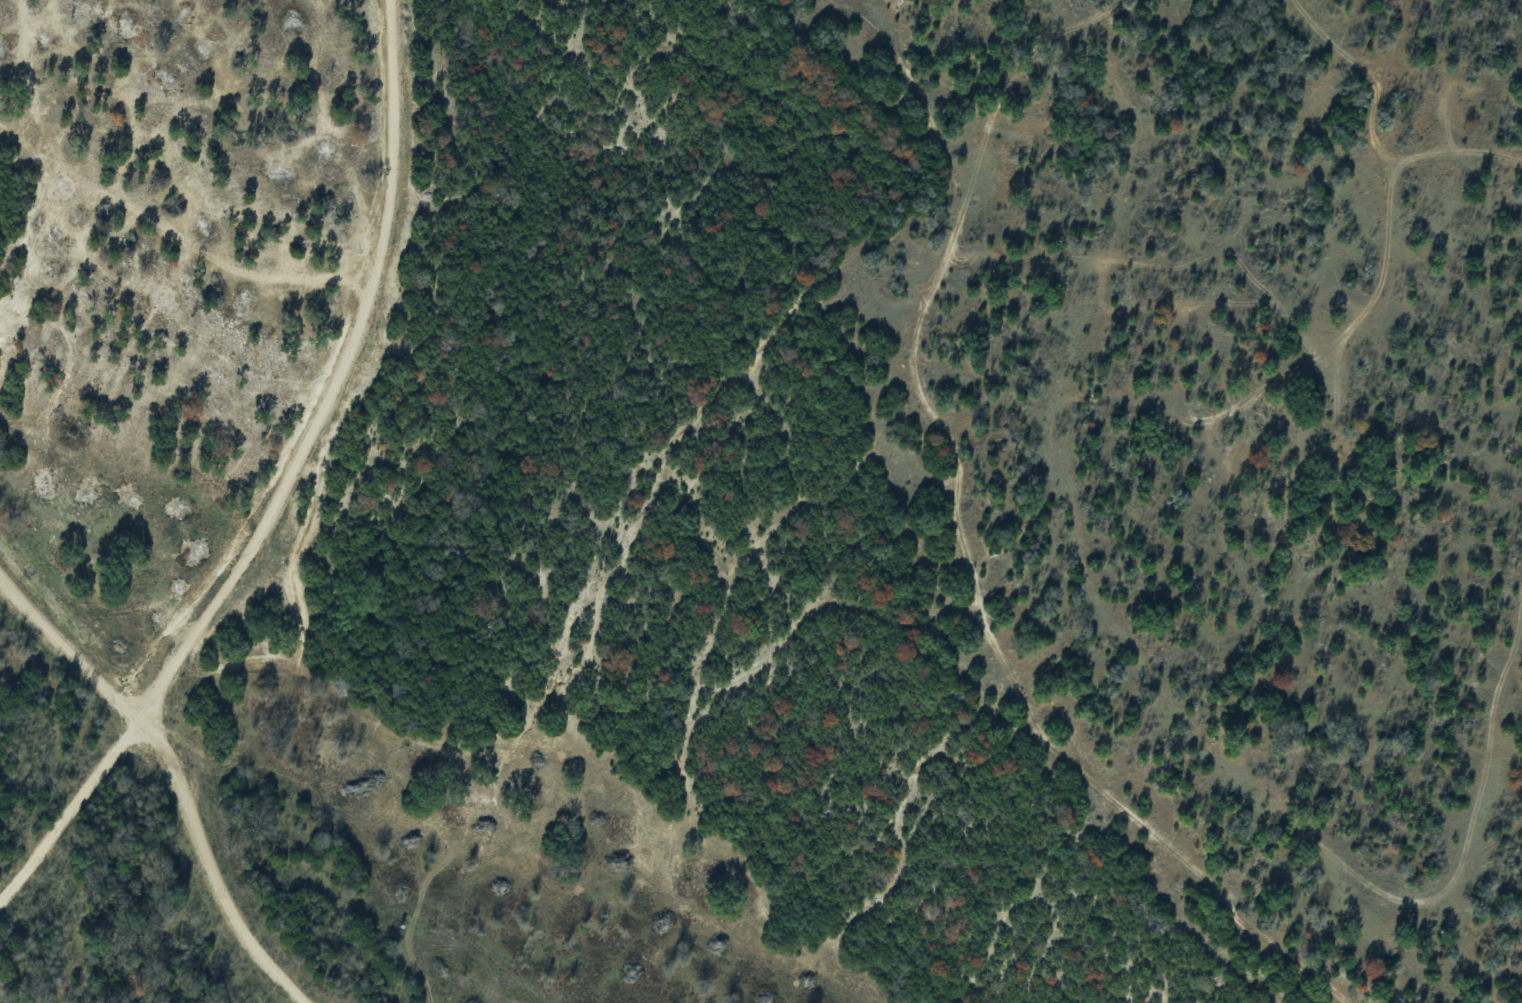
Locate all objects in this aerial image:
road: (339, 382)
road: (178, 775)
road: (70, 813)

